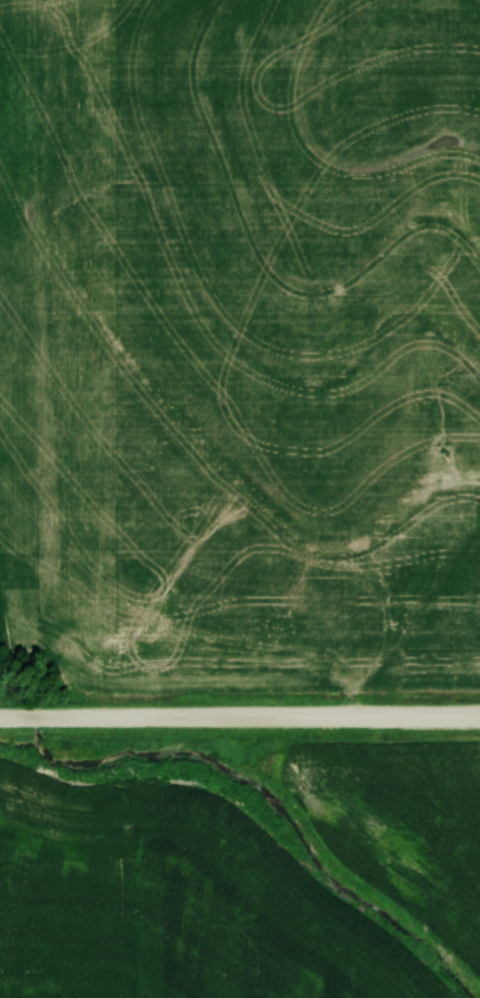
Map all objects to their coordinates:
road: (240, 715)

